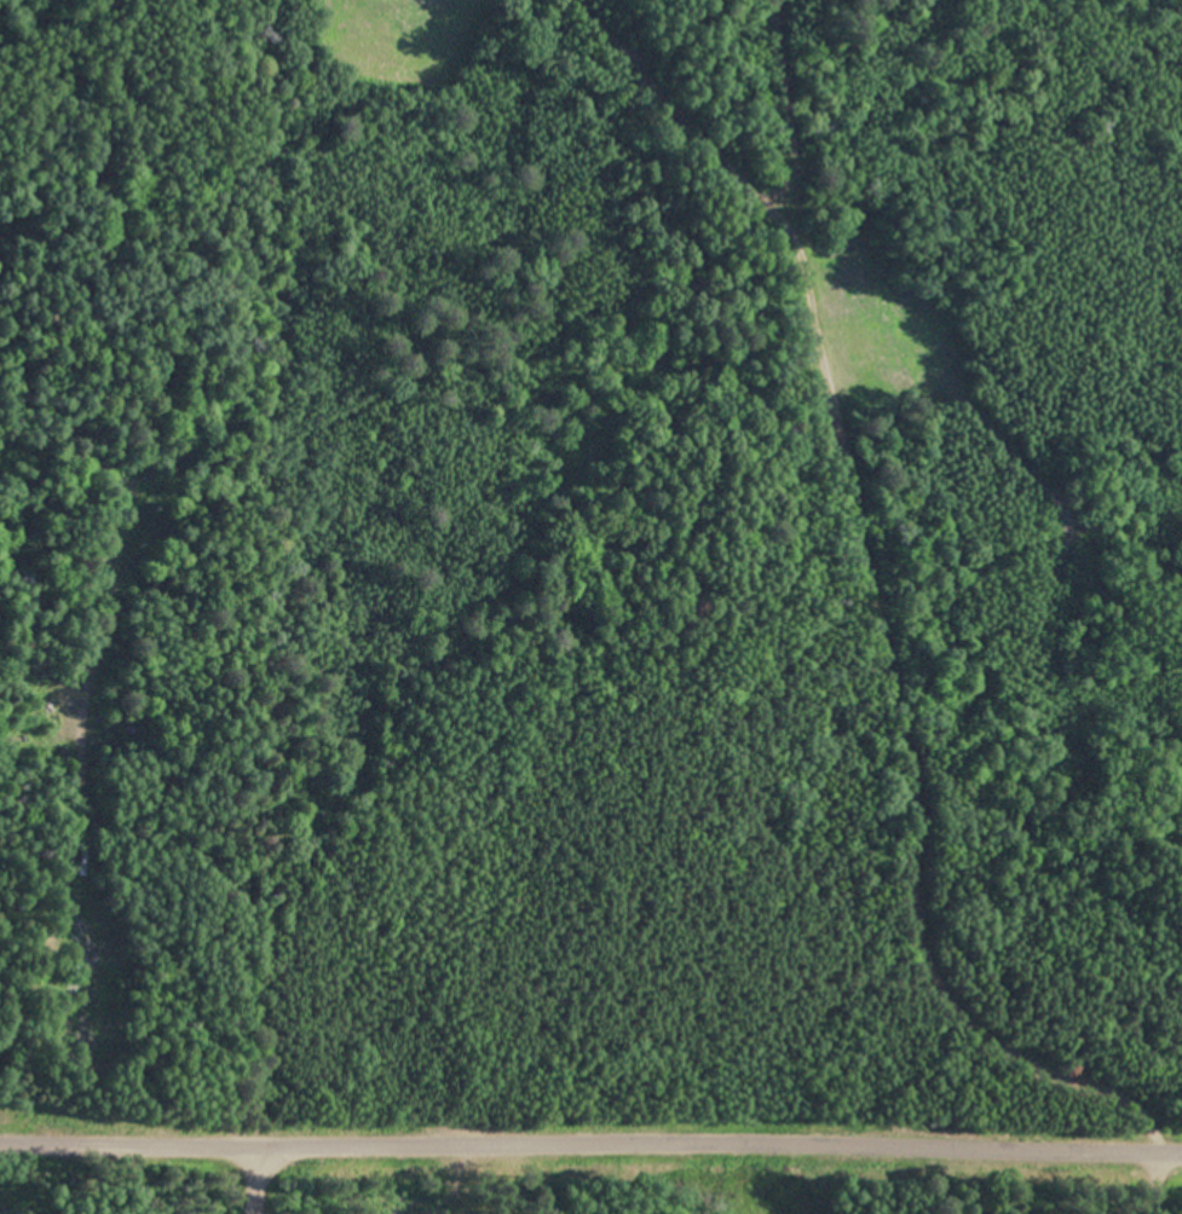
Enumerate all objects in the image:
road: (590, 1144)
road: (255, 1180)

